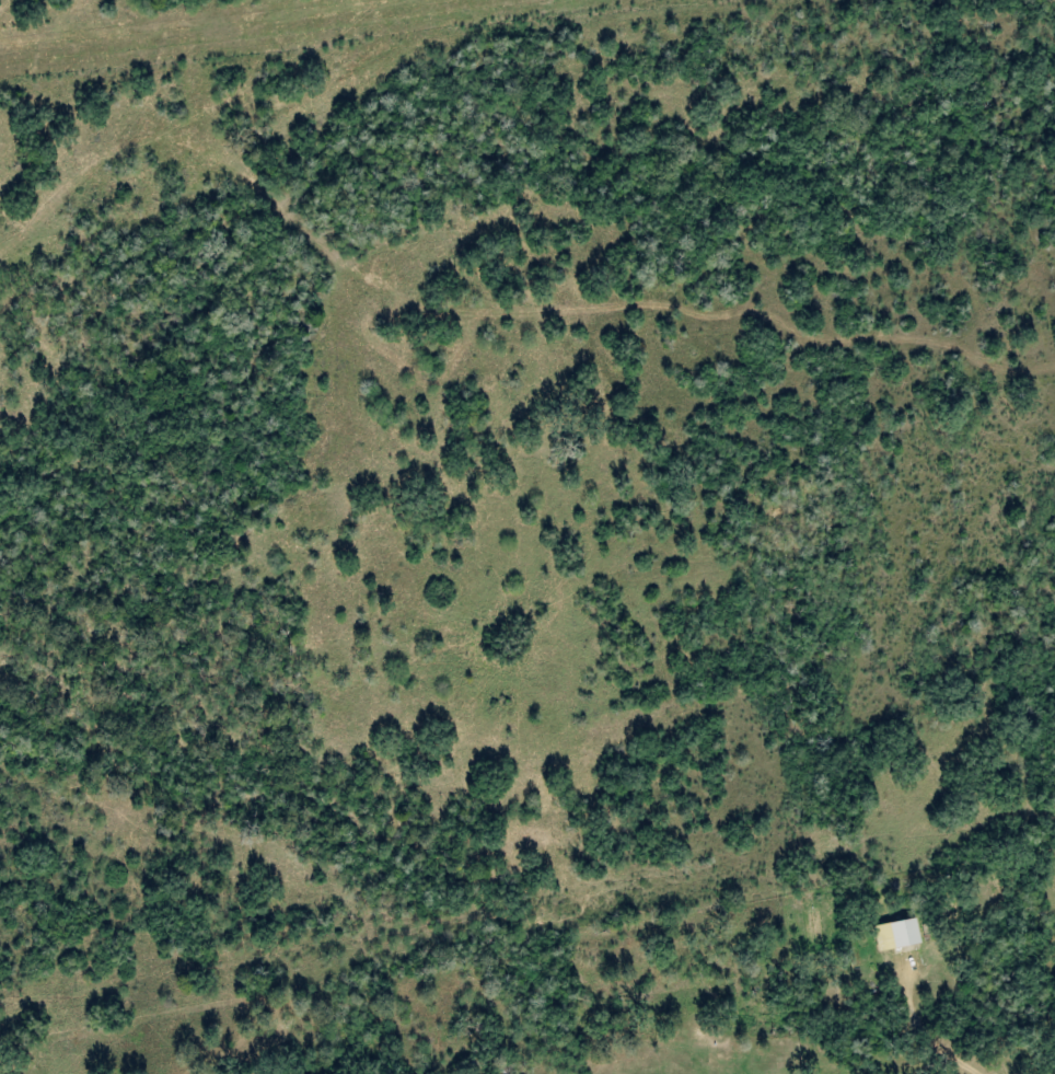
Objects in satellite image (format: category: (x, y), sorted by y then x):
building: (900, 935)

